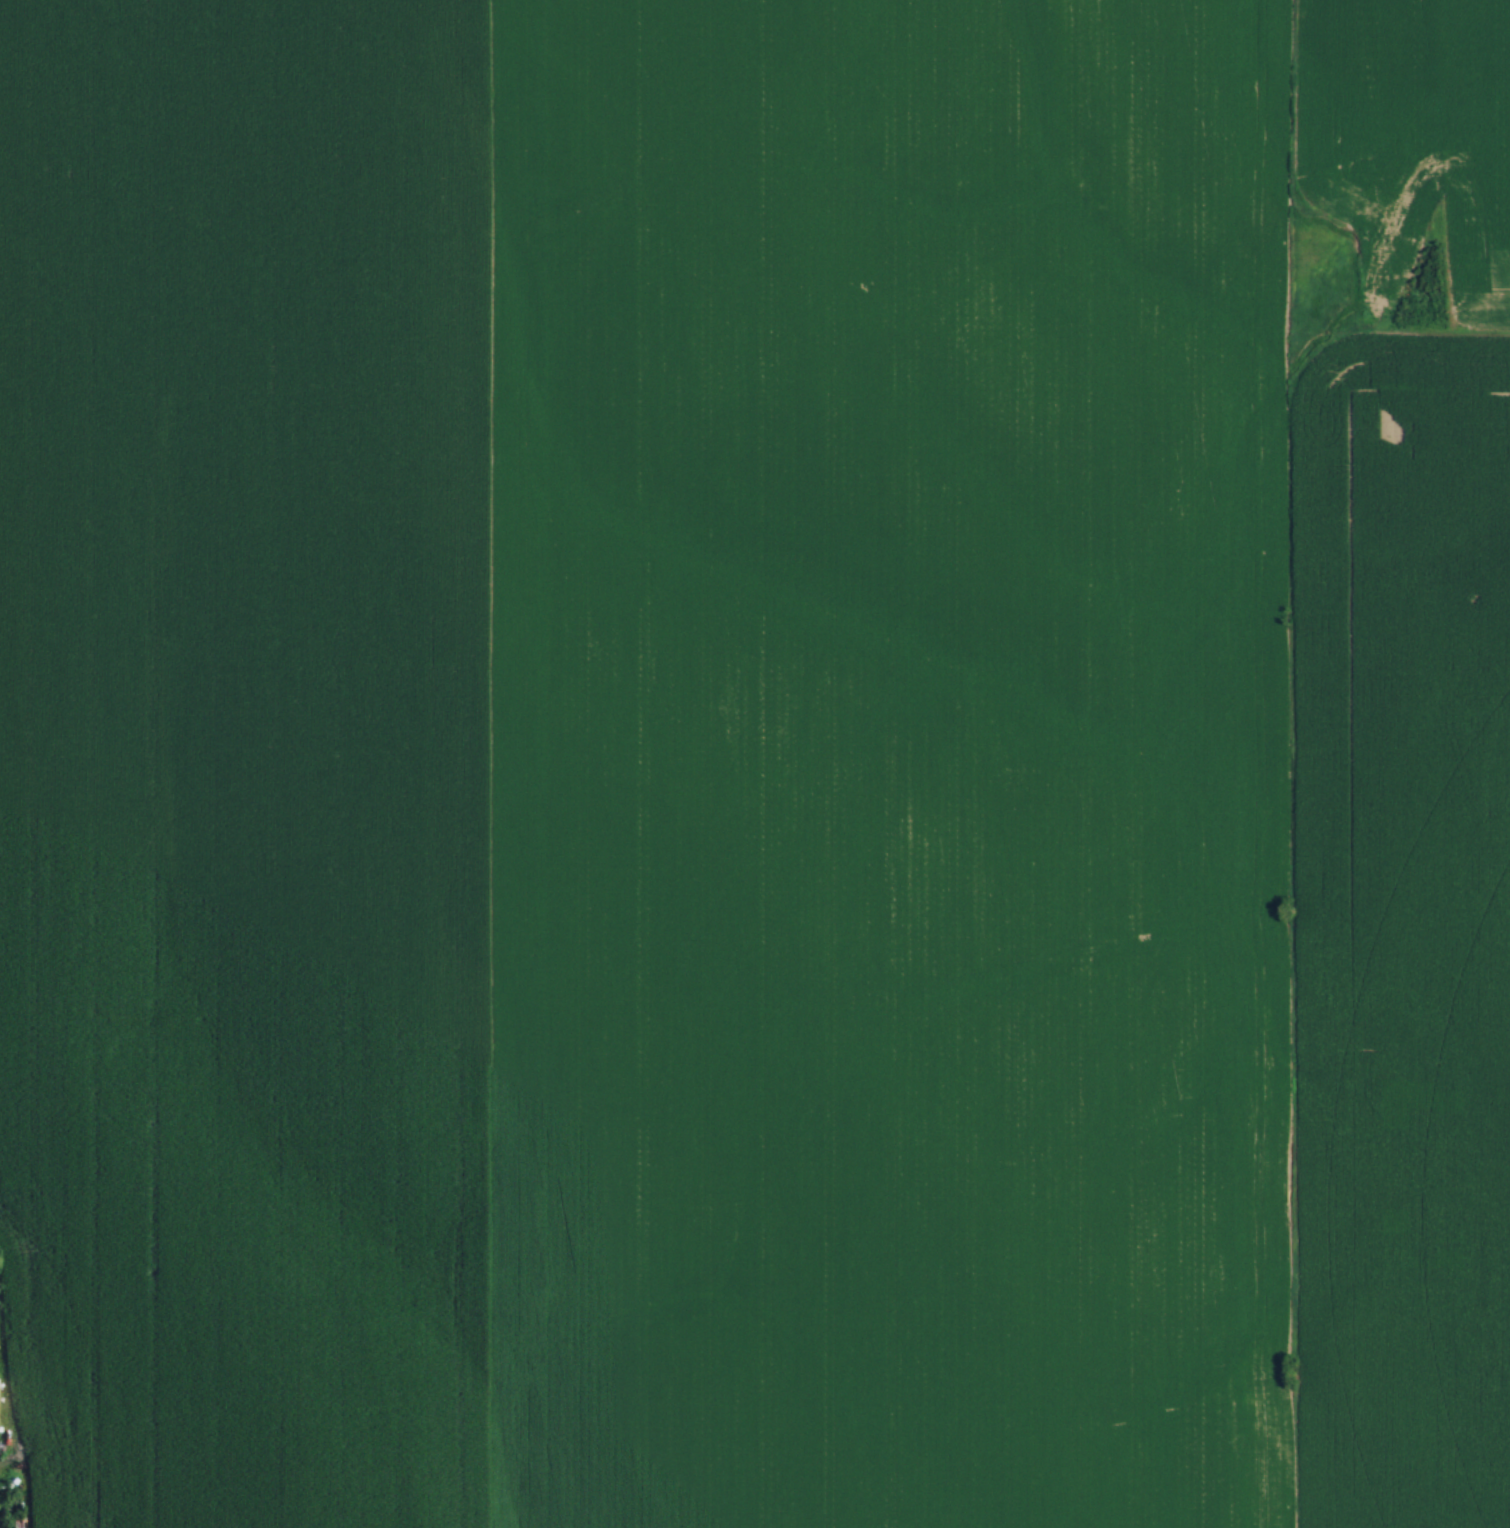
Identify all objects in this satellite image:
crop: (241, 727)
building: (3, 1518)

